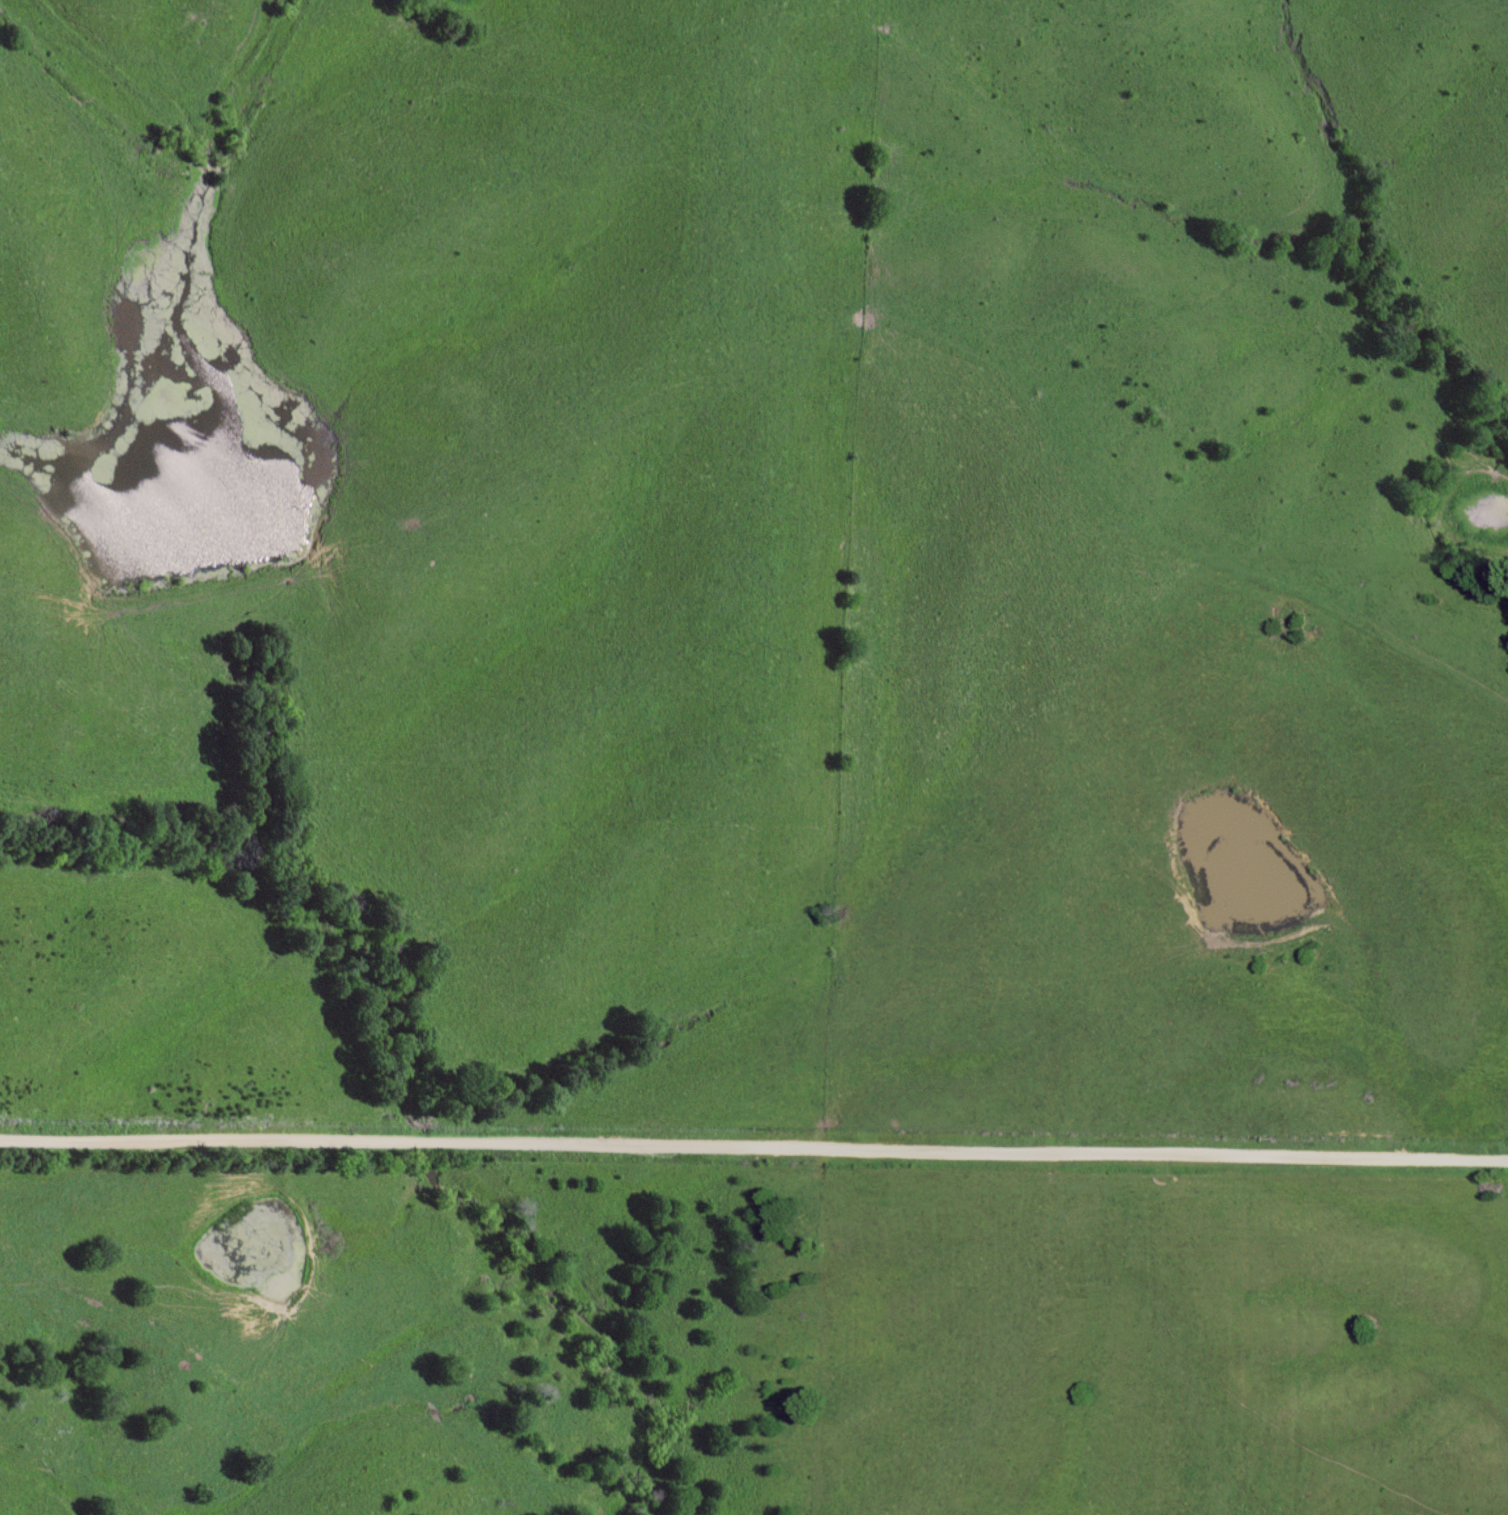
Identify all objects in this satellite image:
road: (754, 1154)

